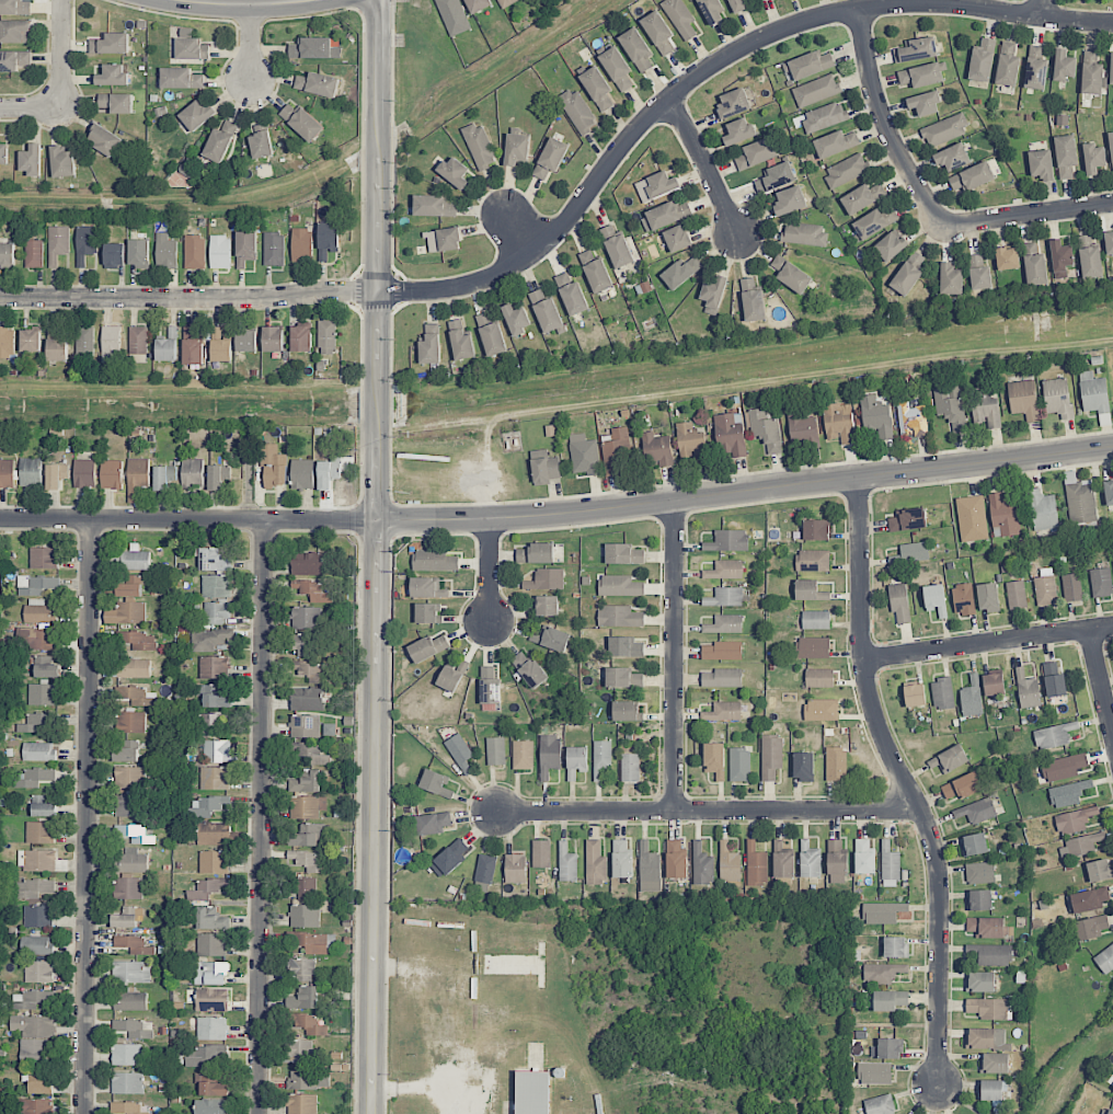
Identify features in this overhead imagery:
building: (760, 0)
building: (506, 2)
road: (253, 3)
building: (478, 5)
building: (738, 5)
building: (15, 7)
road: (243, 8)
road: (1042, 9)
building: (711, 11)
building: (454, 16)
building: (680, 18)
building: (14, 31)
building: (658, 32)
building: (111, 44)
building: (191, 46)
building: (313, 48)
building: (638, 49)
building: (917, 49)
road: (252, 51)
building: (13, 60)
building: (982, 60)
building: (811, 65)
building: (1008, 65)
building: (1064, 65)
building: (617, 68)
building: (1035, 68)
building: (1111, 68)
building: (1091, 72)
building: (113, 74)
building: (921, 74)
building: (181, 79)
road: (62, 83)
building: (318, 84)
building: (597, 88)
building: (816, 90)
building: (116, 102)
building: (734, 103)
building: (925, 103)
building: (577, 111)
building: (197, 115)
building: (825, 116)
building: (302, 122)
road: (888, 126)
building: (738, 130)
building: (944, 130)
building: (104, 139)
building: (220, 141)
building: (836, 143)
building: (261, 145)
building: (480, 146)
building: (1111, 148)
building: (517, 149)
building: (756, 153)
building: (3, 154)
building: (1066, 156)
building: (952, 157)
building: (551, 158)
building: (1093, 158)
building: (32, 160)
building: (62, 162)
road: (710, 164)
building: (1042, 164)
building: (846, 170)
building: (455, 172)
building: (777, 177)
building: (971, 177)
building: (662, 184)
building: (858, 199)
building: (790, 200)
building: (433, 206)
road: (580, 207)
road: (1031, 215)
building: (664, 216)
building: (876, 221)
road: (519, 233)
building: (804, 233)
building: (677, 238)
building: (328, 239)
building: (443, 240)
building: (1109, 242)
building: (58, 243)
building: (85, 243)
building: (301, 243)
building: (890, 245)
building: (617, 246)
building: (245, 248)
building: (274, 249)
building: (165, 251)
building: (195, 252)
building: (220, 252)
building: (34, 253)
building: (139, 253)
building: (7, 255)
building: (115, 255)
building: (1008, 257)
building: (1060, 257)
building: (1089, 257)
building: (1034, 265)
building: (596, 271)
building: (682, 271)
building: (980, 273)
building: (908, 274)
building: (791, 275)
building: (951, 279)
building: (571, 294)
building: (713, 294)
building: (751, 299)
building: (547, 312)
building: (516, 319)
building: (172, 332)
building: (491, 333)
building: (326, 336)
building: (273, 338)
building: (301, 338)
building: (31, 340)
building: (84, 340)
building: (138, 340)
building: (246, 341)
building: (461, 341)
building: (7, 342)
building: (111, 344)
building: (431, 345)
building: (220, 346)
building: (165, 347)
building: (192, 348)
building: (58, 349)
building: (1093, 392)
building: (1057, 397)
building: (1024, 399)
building: (951, 405)
building: (985, 407)
building: (876, 416)
building: (913, 418)
building: (838, 424)
building: (766, 429)
building: (803, 429)
building: (730, 435)
building: (691, 443)
building: (657, 448)
building: (617, 452)
building: (584, 455)
building: (274, 467)
building: (544, 467)
building: (31, 471)
building: (192, 472)
building: (329, 472)
building: (7, 473)
building: (84, 473)
building: (302, 473)
building: (56, 474)
building: (111, 474)
building: (218, 475)
building: (165, 476)
building: (137, 478)
road: (746, 489)
building: (1109, 492)
building: (1081, 505)
building: (1043, 509)
building: (1005, 514)
building: (972, 518)
road: (188, 519)
building: (908, 519)
building: (816, 529)
building: (727, 541)
building: (537, 553)
building: (911, 553)
building: (623, 554)
road: (378, 556)
building: (44, 558)
building: (133, 559)
building: (434, 560)
building: (813, 560)
building: (215, 561)
building: (309, 564)
road: (487, 569)
building: (725, 570)
building: (547, 579)
building: (1101, 582)
building: (36, 585)
building: (130, 586)
building: (216, 586)
building: (620, 586)
building: (427, 587)
building: (1071, 587)
building: (312, 590)
building: (810, 590)
building: (1045, 590)
building: (1016, 595)
building: (725, 597)
building: (988, 597)
building: (936, 599)
building: (964, 599)
building: (899, 604)
building: (547, 606)
building: (38, 611)
building: (217, 612)
building: (427, 612)
building: (127, 613)
building: (619, 616)
building: (307, 618)
building: (815, 620)
building: (725, 624)
road: (986, 632)
building: (36, 639)
building: (208, 639)
building: (551, 639)
building: (139, 641)
building: (301, 644)
building: (428, 646)
building: (626, 647)
building: (813, 647)
road: (674, 650)
building: (723, 651)
building: (46, 667)
building: (214, 667)
building: (135, 668)
building: (529, 669)
building: (309, 671)
building: (449, 678)
building: (623, 678)
building: (722, 678)
building: (819, 678)
building: (1054, 678)
road: (1099, 681)
building: (994, 684)
building: (490, 685)
building: (1028, 689)
building: (42, 693)
building: (942, 693)
building: (915, 694)
building: (137, 696)
building: (216, 697)
building: (972, 697)
building: (307, 699)
building: (822, 709)
building: (627, 711)
building: (723, 711)
building: (36, 722)
building: (131, 722)
building: (211, 723)
building: (305, 725)
building: (1054, 735)
building: (126, 750)
building: (217, 750)
building: (496, 750)
building: (38, 751)
building: (310, 753)
building: (460, 753)
building: (523, 755)
building: (549, 755)
building: (771, 756)
building: (601, 758)
building: (715, 759)
building: (949, 759)
building: (576, 761)
building: (836, 763)
building: (739, 765)
building: (803, 766)
building: (630, 767)
building: (1064, 767)
road: (903, 776)
building: (129, 777)
building: (34, 778)
building: (215, 778)
building: (307, 781)
building: (436, 782)
building: (961, 786)
building: (1068, 793)
road: (708, 803)
building: (127, 805)
building: (44, 806)
building: (207, 806)
building: (308, 806)
building: (976, 811)
road: (88, 816)
road: (261, 817)
building: (1074, 819)
building: (433, 823)
building: (41, 831)
building: (136, 834)
building: (214, 834)
building: (309, 835)
building: (974, 843)
building: (1079, 846)
building: (541, 853)
building: (864, 857)
building: (449, 858)
building: (676, 858)
building: (37, 860)
building: (622, 860)
building: (782, 860)
building: (133, 861)
building: (308, 861)
building: (810, 861)
building: (214, 862)
building: (837, 862)
building: (567, 863)
building: (595, 863)
building: (730, 863)
building: (702, 865)
building: (756, 865)
building: (890, 865)
building: (515, 868)
building: (649, 868)
building: (485, 869)
building: (1099, 870)
building: (979, 872)
building: (34, 887)
building: (305, 887)
building: (128, 888)
building: (207, 888)
building: (979, 899)
building: (1089, 899)
building: (882, 912)
building: (38, 916)
building: (305, 916)
building: (126, 918)
building: (211, 918)
building: (985, 927)
building: (1091, 927)
building: (311, 942)
building: (36, 944)
building: (134, 944)
building: (211, 944)
building: (896, 946)
building: (991, 954)
building: (1104, 958)
building: (302, 968)
building: (38, 972)
building: (130, 972)
building: (210, 973)
building: (883, 973)
building: (980, 981)
building: (303, 998)
building: (32, 999)
building: (214, 999)
building: (130, 1000)
building: (891, 1000)
building: (989, 1008)
building: (309, 1024)
building: (34, 1026)
building: (211, 1027)
building: (133, 1029)
building: (986, 1038)
building: (887, 1048)
building: (298, 1050)
building: (33, 1052)
building: (126, 1054)
building: (205, 1055)
building: (995, 1063)
building: (875, 1072)
building: (309, 1080)
building: (127, 1082)
building: (41, 1087)
building: (211, 1087)
road: (421, 1087)
building: (992, 1090)
building: (533, 1092)
road: (477, 1101)
building: (301, 1103)
building: (880, 1104)
building: (33, 1106)
building: (210, 1106)
building: (127, 1107)
building: (1106, 1111)

